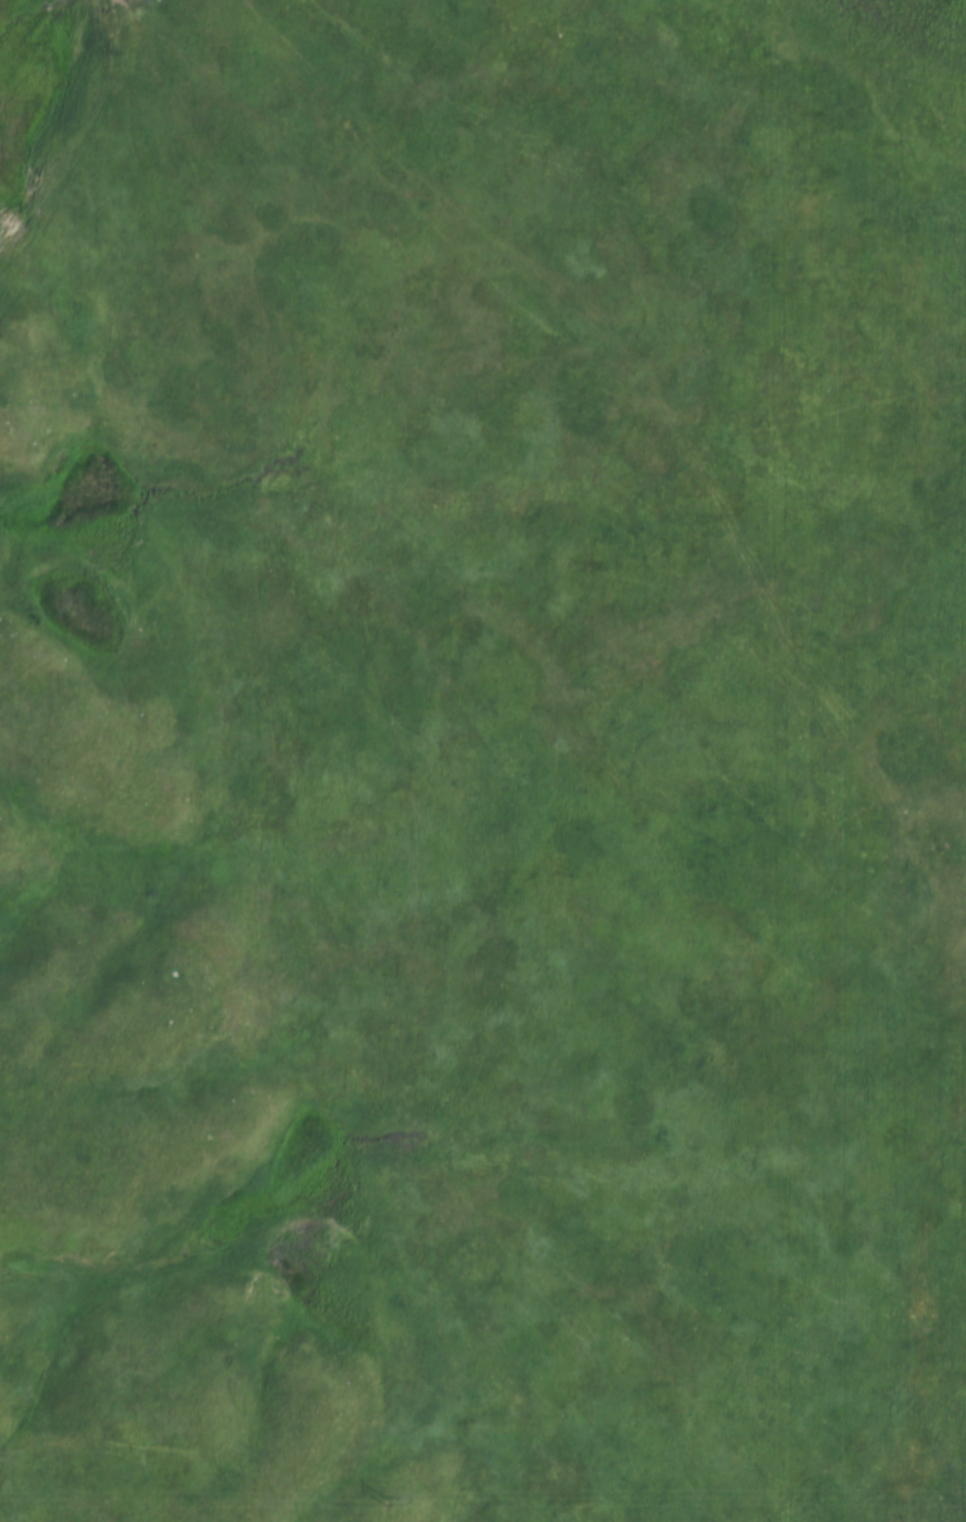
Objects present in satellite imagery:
power tower: (386, 1497)

